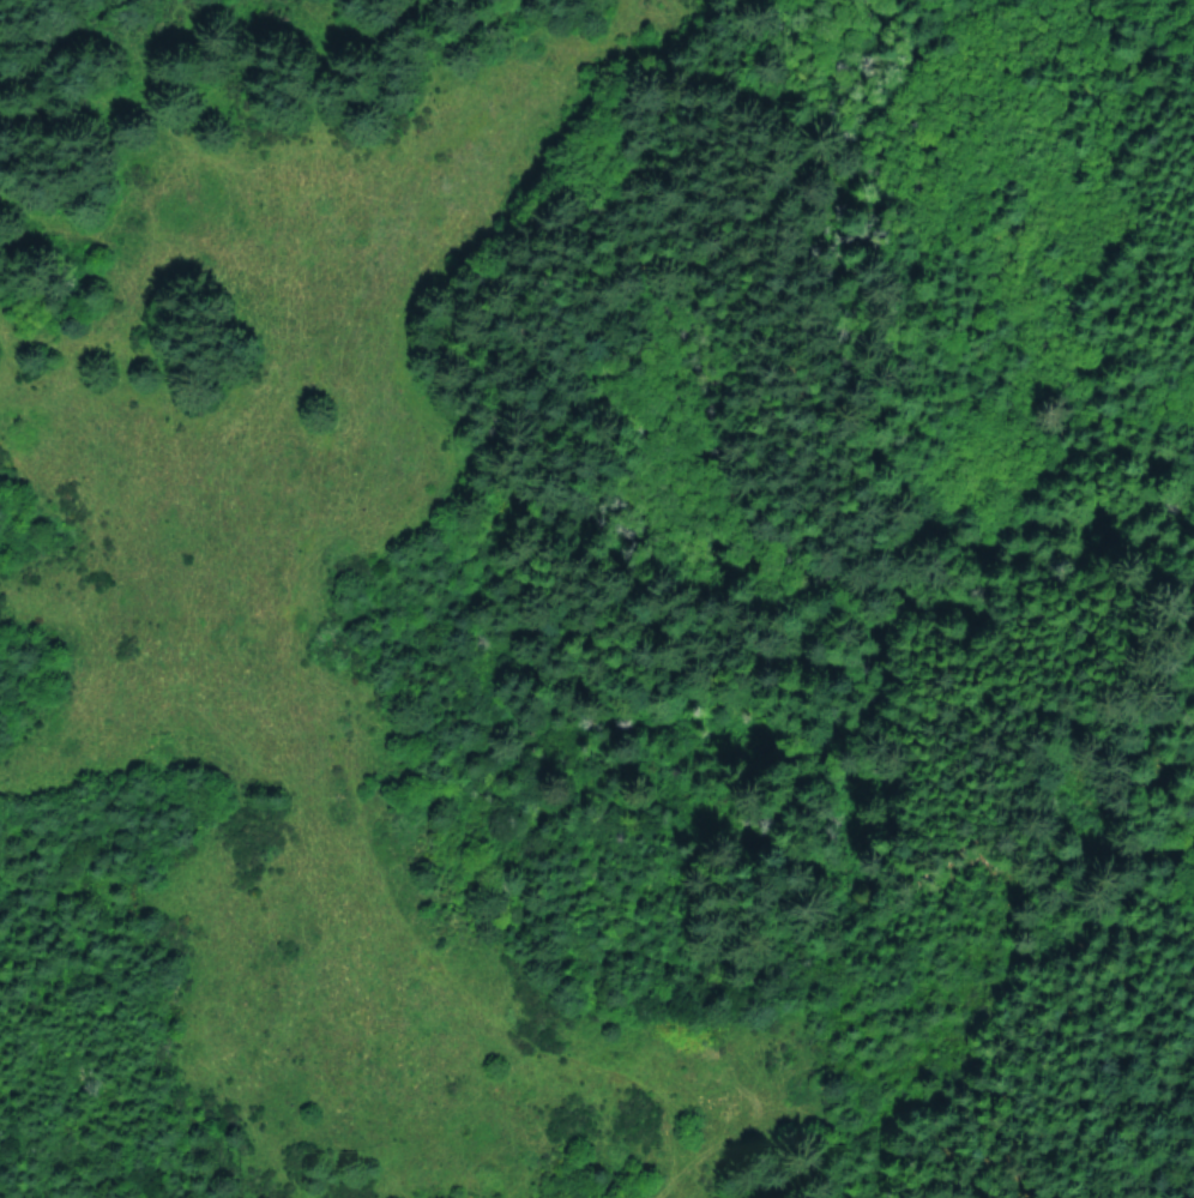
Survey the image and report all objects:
road: (288, 616)
road: (742, 1098)
road: (892, 1145)

